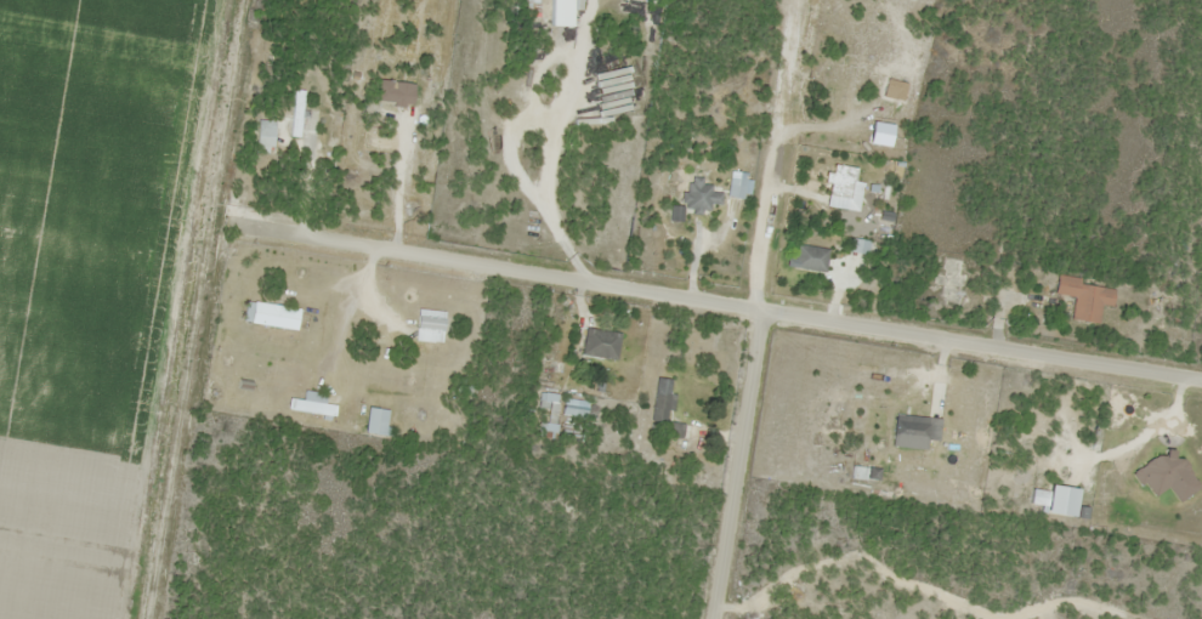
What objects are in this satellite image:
building: (563, 12)
building: (297, 113)
building: (266, 137)
building: (701, 195)
building: (807, 257)
building: (1082, 297)
road: (715, 303)
building: (274, 316)
building: (431, 330)
building: (601, 343)
building: (548, 402)
building: (311, 404)
building: (664, 409)
building: (376, 421)
building: (907, 427)
building: (548, 430)
road: (736, 465)

